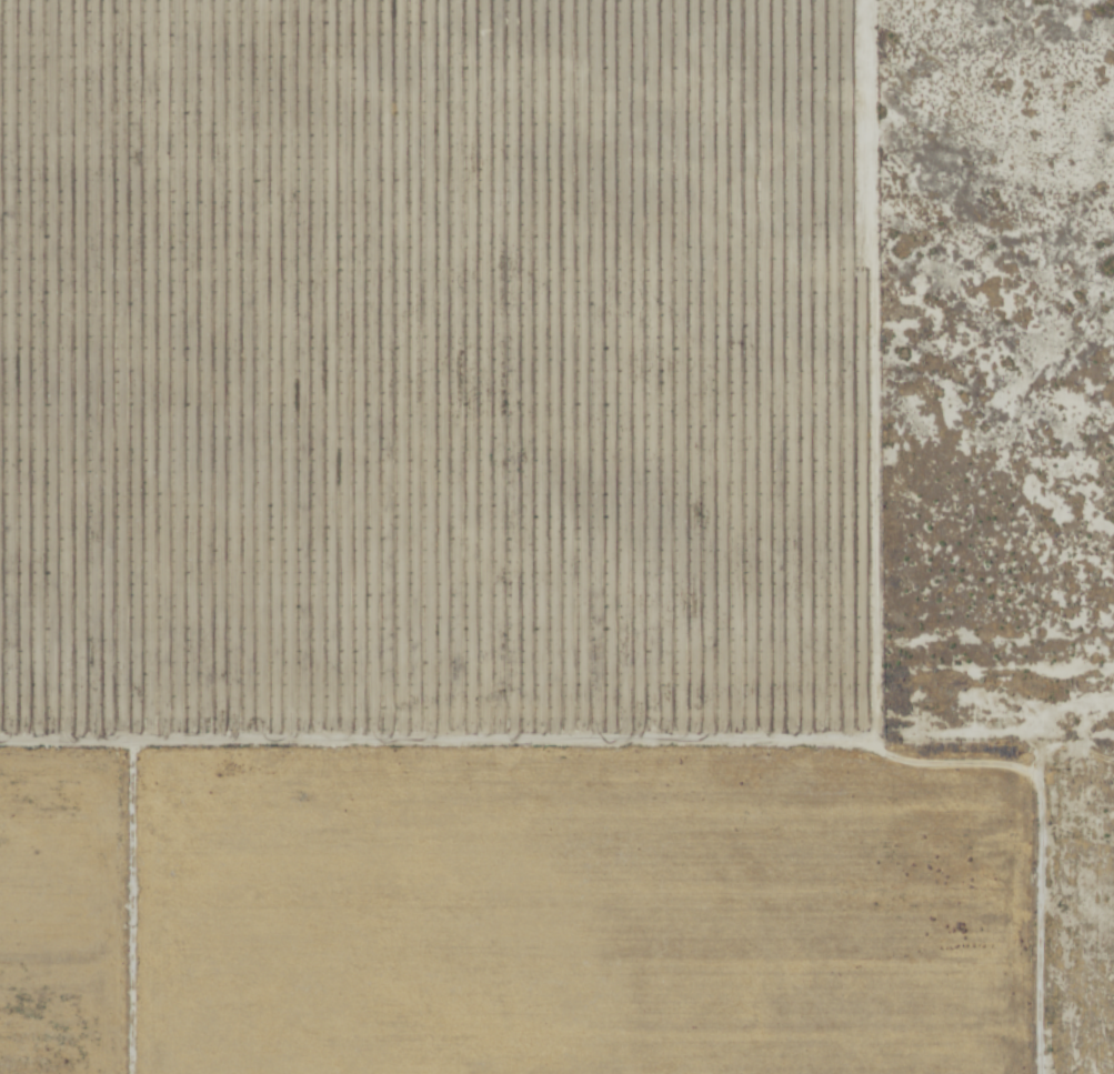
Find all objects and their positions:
road: (1034, 841)
road: (127, 910)

